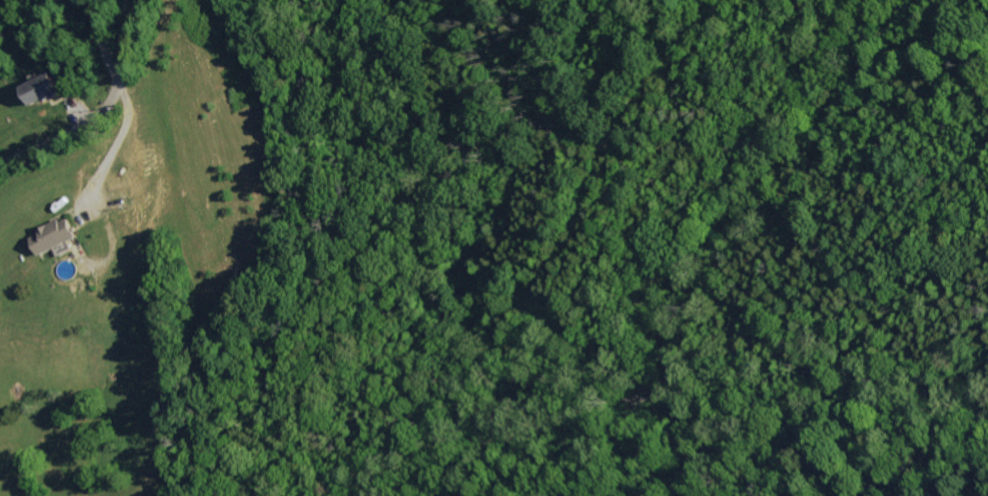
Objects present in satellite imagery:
road: (101, 41)
building: (42, 89)
road: (102, 107)
road: (114, 146)
building: (57, 235)

